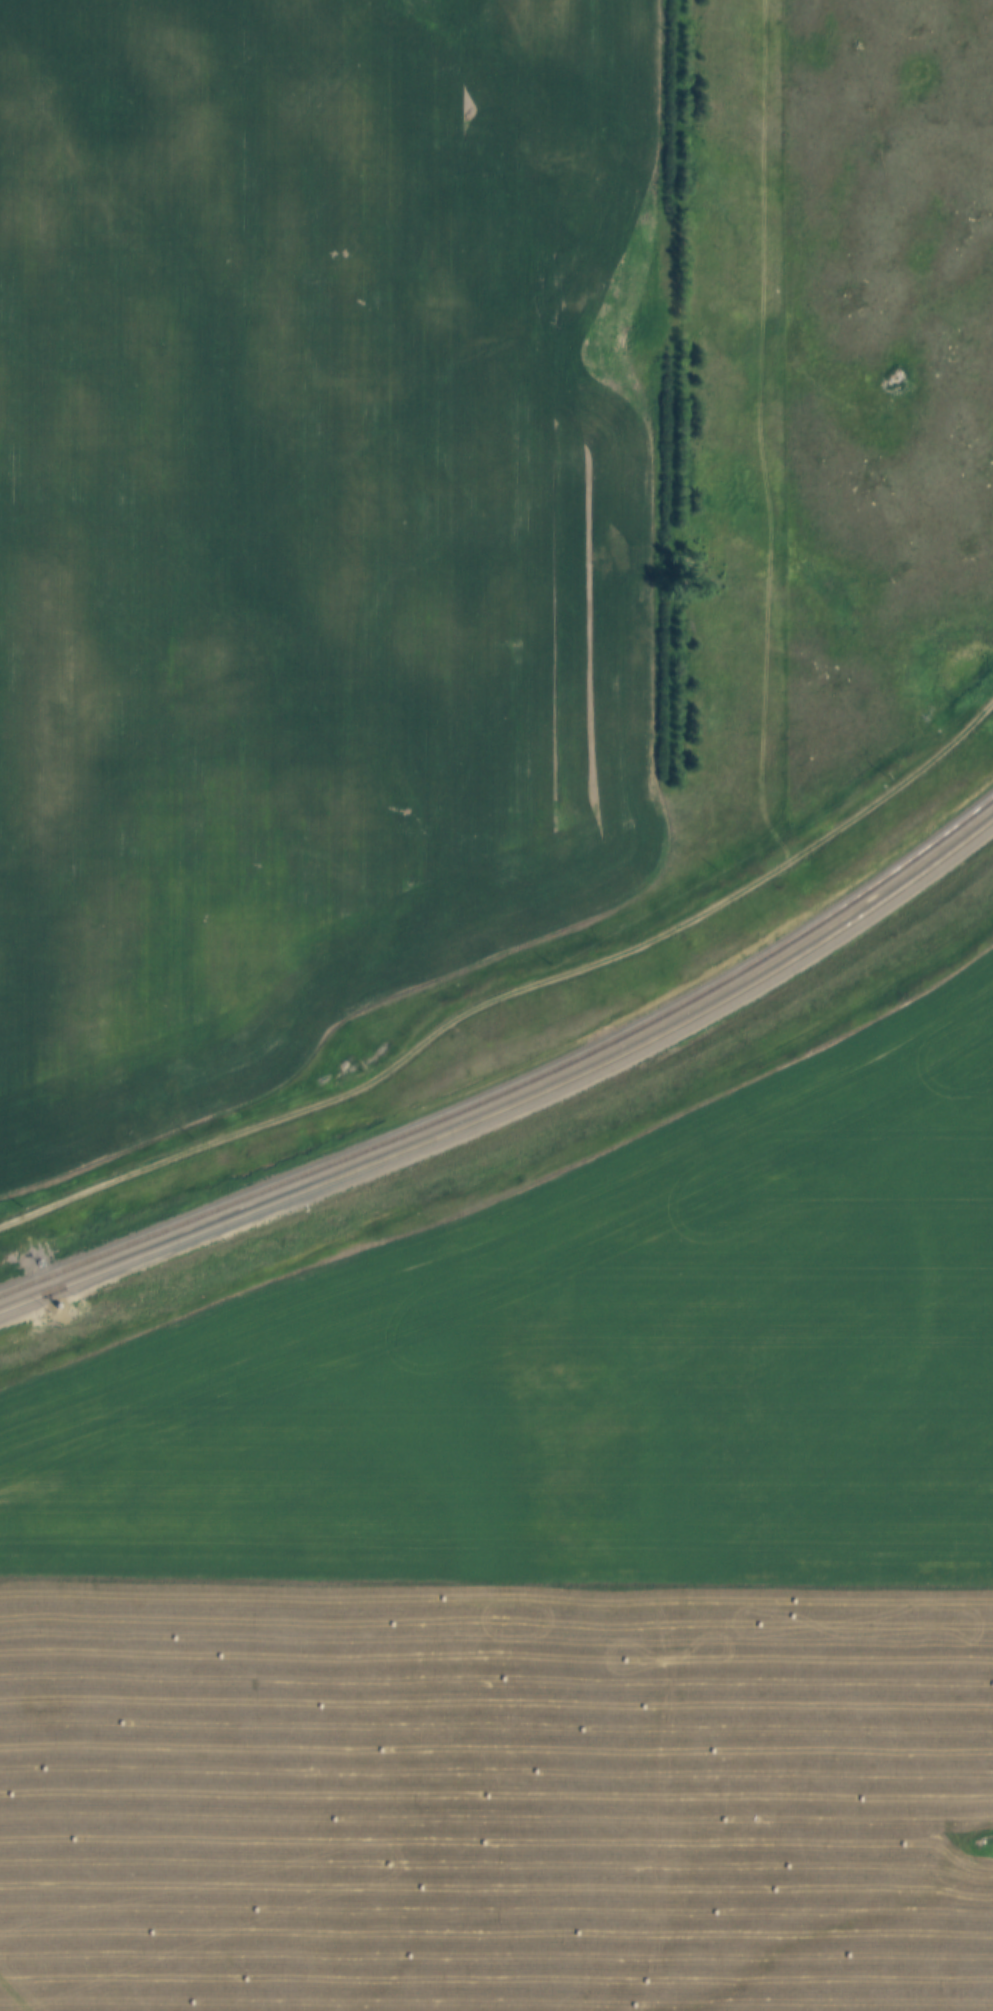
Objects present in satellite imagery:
railway: (556, 1066)
railway: (517, 1105)
railway: (40, 1281)

